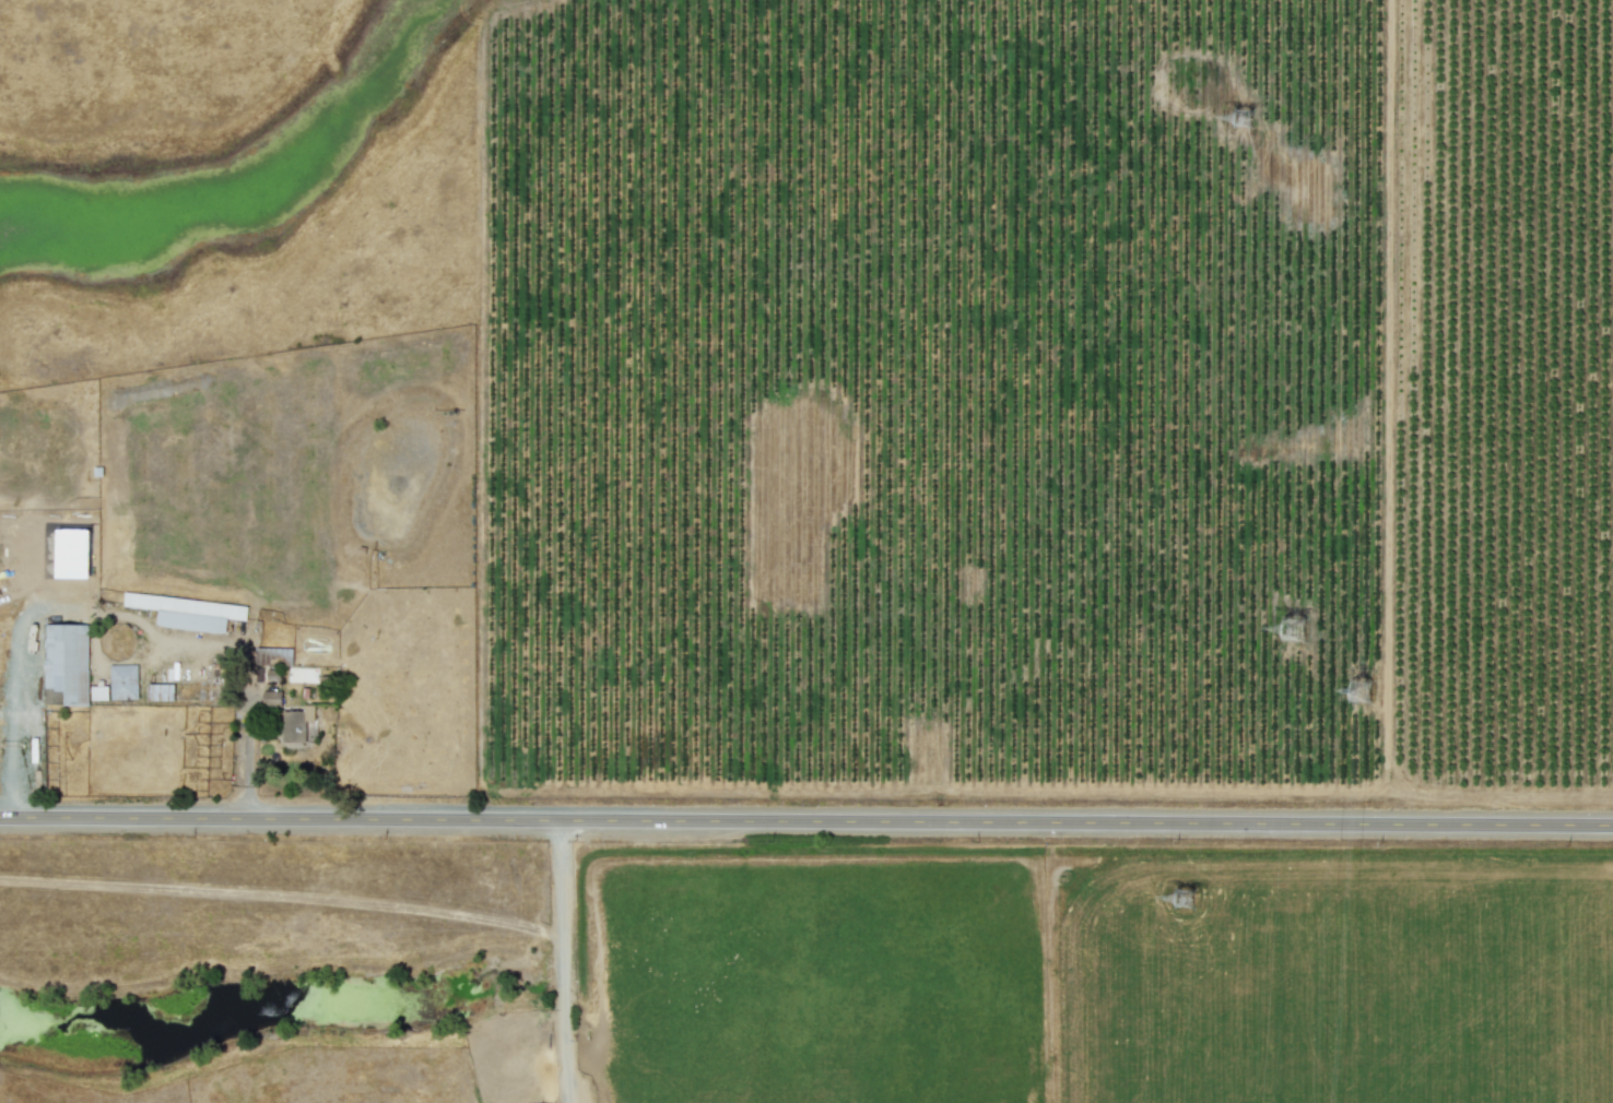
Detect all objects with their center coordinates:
power tower: (1247, 120)
building: (187, 610)
power tower: (1285, 619)
road: (22, 639)
building: (273, 655)
building: (67, 660)
building: (273, 673)
building: (302, 673)
building: (118, 683)
building: (161, 690)
power tower: (1365, 696)
building: (271, 697)
building: (298, 723)
road: (246, 755)
road: (805, 819)
power tower: (1188, 900)
road: (561, 961)

